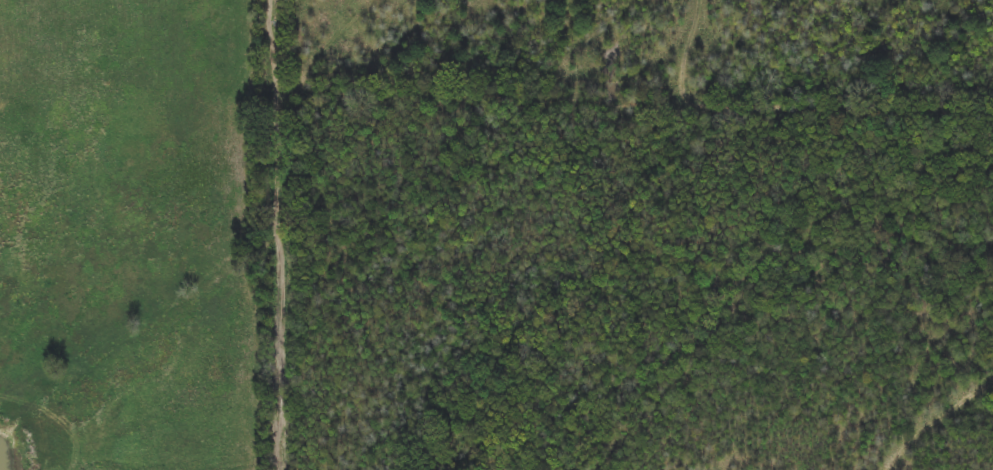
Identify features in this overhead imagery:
road: (275, 235)

